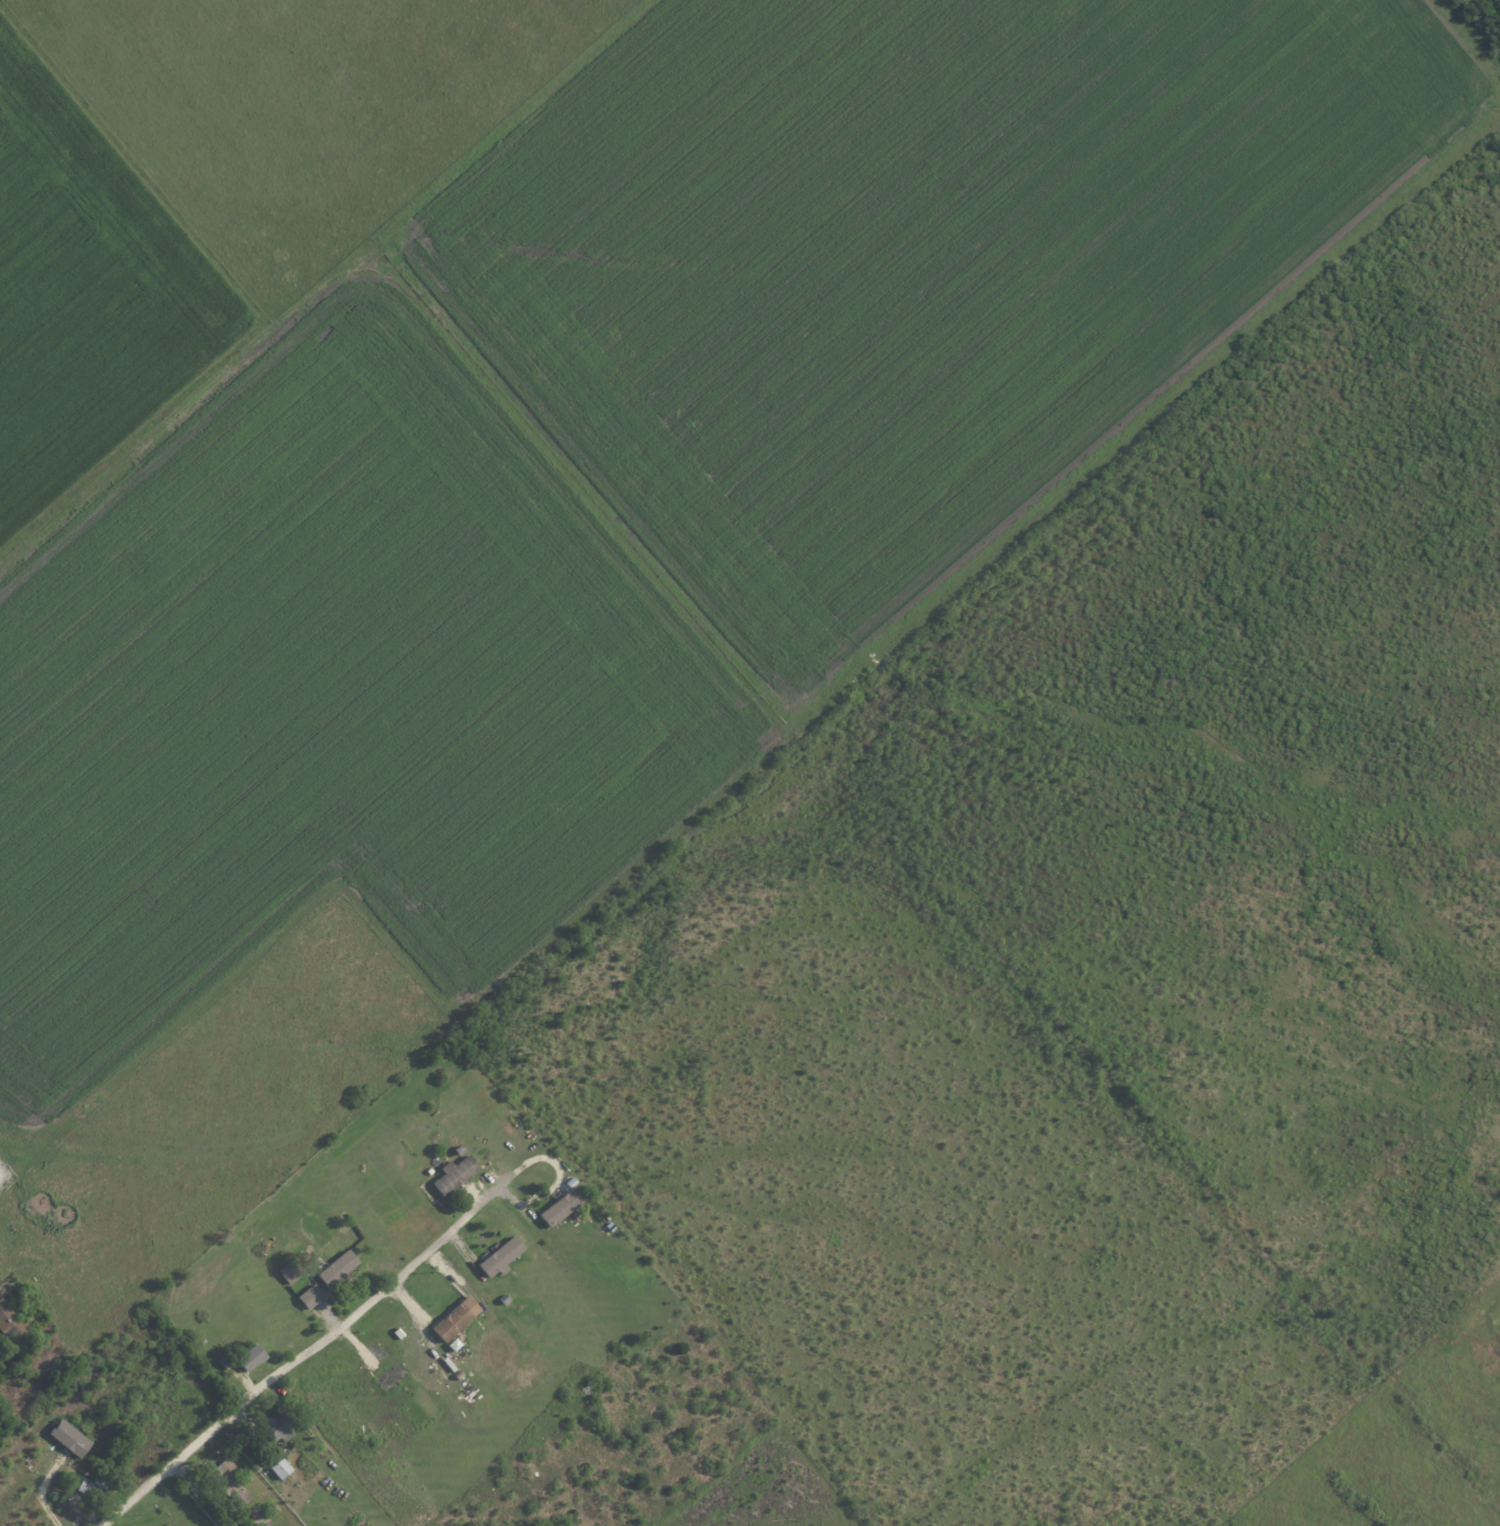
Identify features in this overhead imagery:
building: (452, 1173)
building: (558, 1205)
building: (496, 1256)
building: (333, 1268)
building: (306, 1296)
building: (451, 1319)
building: (8, 1320)
building: (247, 1357)
road: (298, 1357)
building: (387, 1377)
building: (65, 1438)
building: (276, 1468)
building: (227, 1481)

